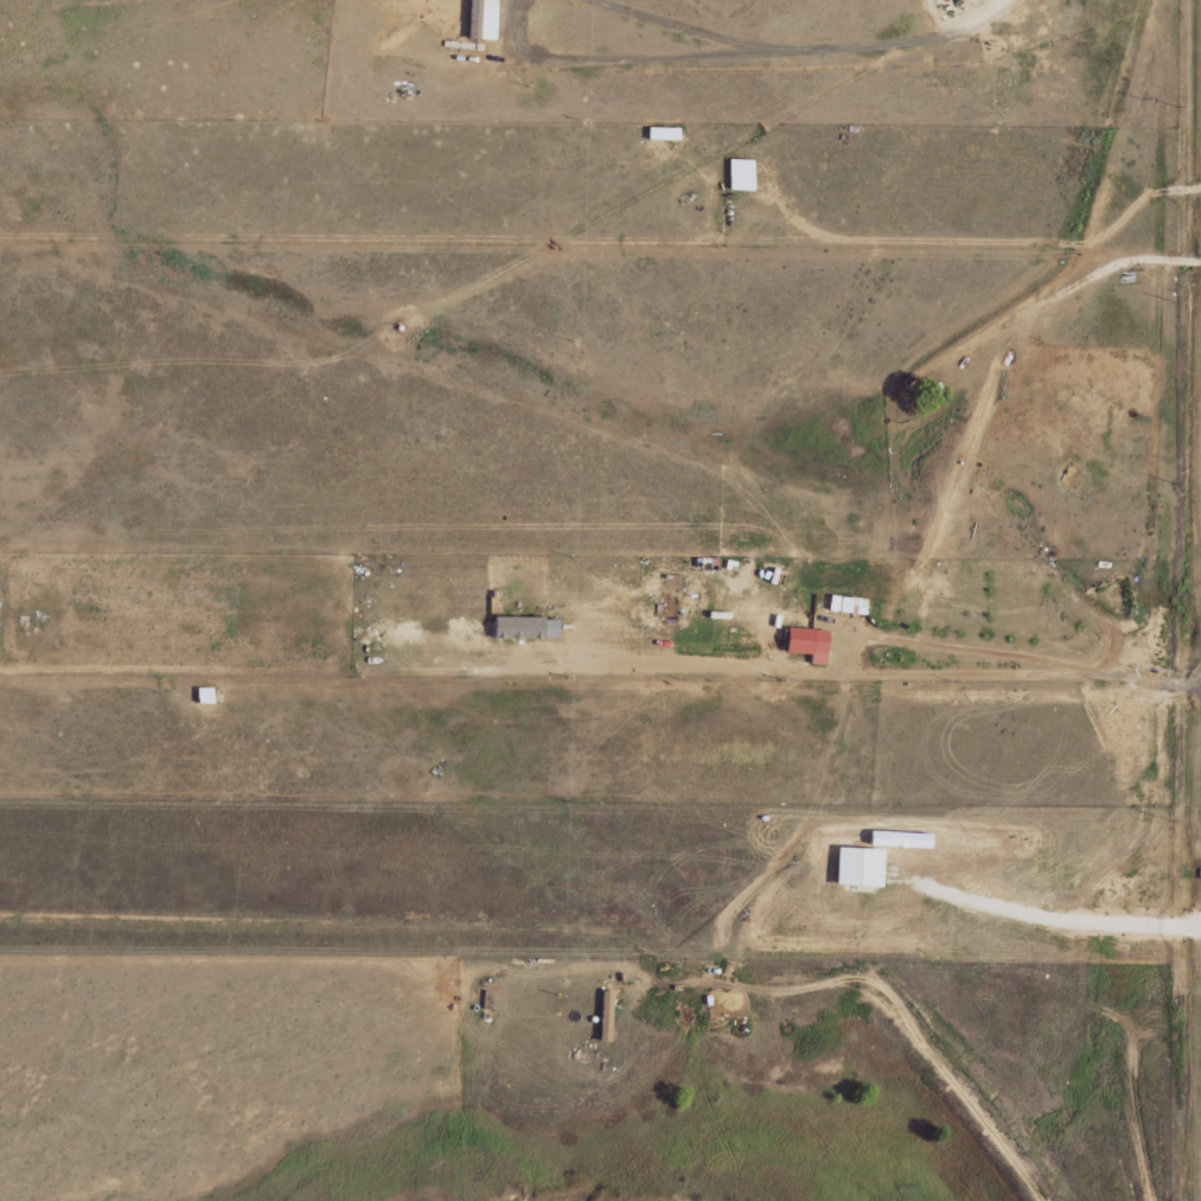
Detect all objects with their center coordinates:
building: (485, 19)
building: (743, 174)
building: (522, 628)
building: (804, 640)
building: (207, 696)
building: (602, 1015)

